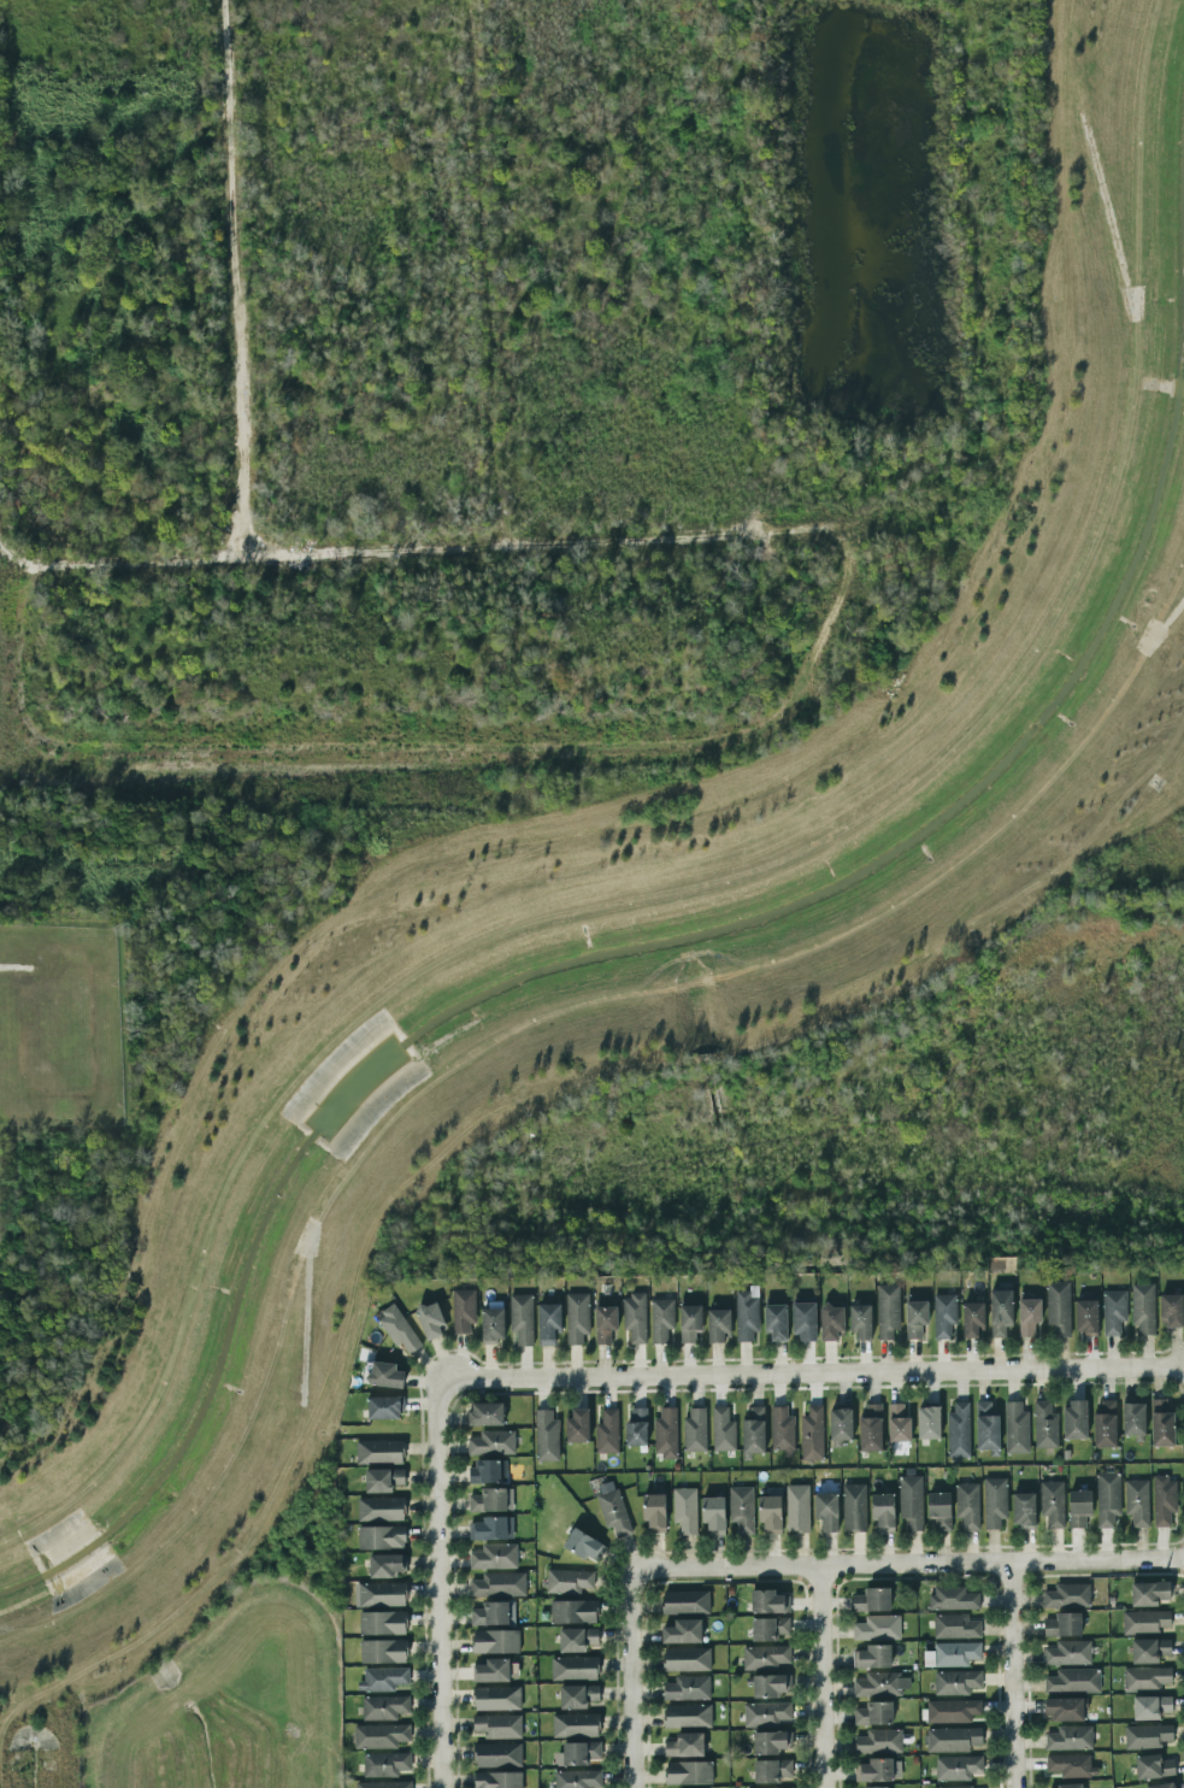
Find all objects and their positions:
road: (489, 272)
road: (238, 280)
road: (754, 534)
road: (675, 827)
river: (655, 942)
building: (1058, 1308)
building: (1143, 1308)
building: (463, 1310)
building: (888, 1311)
building: (1172, 1311)
building: (1000, 1312)
building: (1113, 1312)
building: (747, 1313)
building: (944, 1314)
building: (577, 1317)
building: (635, 1317)
building: (1029, 1317)
building: (1086, 1317)
building: (430, 1318)
building: (522, 1318)
building: (915, 1318)
building: (661, 1319)
building: (972, 1319)
building: (860, 1321)
building: (605, 1322)
building: (803, 1322)
building: (548, 1323)
building: (689, 1323)
building: (776, 1323)
building: (831, 1323)
building: (493, 1324)
building: (718, 1324)
building: (397, 1328)
road: (811, 1374)
building: (384, 1375)
building: (384, 1407)
building: (485, 1413)
building: (1133, 1418)
building: (1074, 1419)
building: (897, 1423)
building: (929, 1423)
building: (1105, 1423)
building: (841, 1424)
building: (1161, 1424)
building: (577, 1425)
building: (1044, 1425)
building: (871, 1427)
building: (986, 1427)
building: (637, 1428)
building: (1015, 1428)
building: (781, 1429)
building: (695, 1430)
building: (723, 1430)
building: (754, 1430)
building: (958, 1430)
building: (607, 1431)
building: (665, 1434)
building: (812, 1434)
building: (546, 1436)
building: (491, 1443)
building: (379, 1452)
building: (484, 1471)
building: (383, 1480)
building: (1107, 1499)
building: (488, 1500)
building: (1164, 1500)
building: (911, 1501)
building: (994, 1502)
building: (1137, 1502)
building: (1052, 1504)
building: (967, 1505)
building: (854, 1507)
building: (1079, 1507)
building: (381, 1508)
building: (612, 1508)
building: (741, 1508)
building: (797, 1508)
building: (684, 1510)
building: (939, 1510)
building: (1023, 1510)
building: (826, 1511)
building: (883, 1511)
building: (654, 1512)
building: (770, 1513)
building: (713, 1514)
building: (488, 1529)
building: (381, 1537)
building: (583, 1545)
building: (494, 1557)
building: (387, 1565)
road: (909, 1569)
building: (567, 1581)
road: (441, 1583)
building: (499, 1584)
building: (1149, 1593)
building: (382, 1594)
building: (1067, 1596)
building: (953, 1599)
building: (872, 1600)
building: (685, 1601)
building: (768, 1601)
building: (572, 1612)
building: (490, 1613)
building: (1144, 1622)
building: (382, 1623)
building: (1064, 1625)
building: (955, 1627)
building: (877, 1628)
building: (768, 1629)
building: (682, 1631)
building: (577, 1639)
building: (495, 1641)
building: (383, 1651)
building: (1149, 1651)
building: (955, 1653)
building: (1067, 1653)
building: (766, 1657)
building: (872, 1657)
building: (687, 1659)
building: (573, 1668)
building: (491, 1670)
road: (1014, 1677)
road: (635, 1678)
building: (1147, 1678)
building: (382, 1680)
road: (826, 1680)
building: (1073, 1681)
building: (956, 1682)
building: (880, 1684)
building: (770, 1686)
building: (687, 1688)
building: (577, 1696)
building: (496, 1698)
building: (384, 1707)
building: (1150, 1707)
building: (1064, 1708)
building: (952, 1711)
building: (766, 1713)
building: (873, 1713)
building: (687, 1716)
building: (575, 1725)
building: (497, 1727)
building: (379, 1736)
building: (1147, 1736)
building: (1070, 1737)
building: (953, 1740)
building: (879, 1741)
building: (771, 1742)
building: (684, 1745)
building: (578, 1753)
building: (497, 1754)
building: (385, 1764)
building: (1070, 1765)
building: (1153, 1766)
building: (958, 1768)
building: (771, 1770)
building: (874, 1770)
building: (688, 1772)
building: (577, 1778)
building: (497, 1780)
building: (383, 1784)
building: (1070, 1786)
building: (1162, 1786)
building: (876, 1787)
building: (956, 1787)

